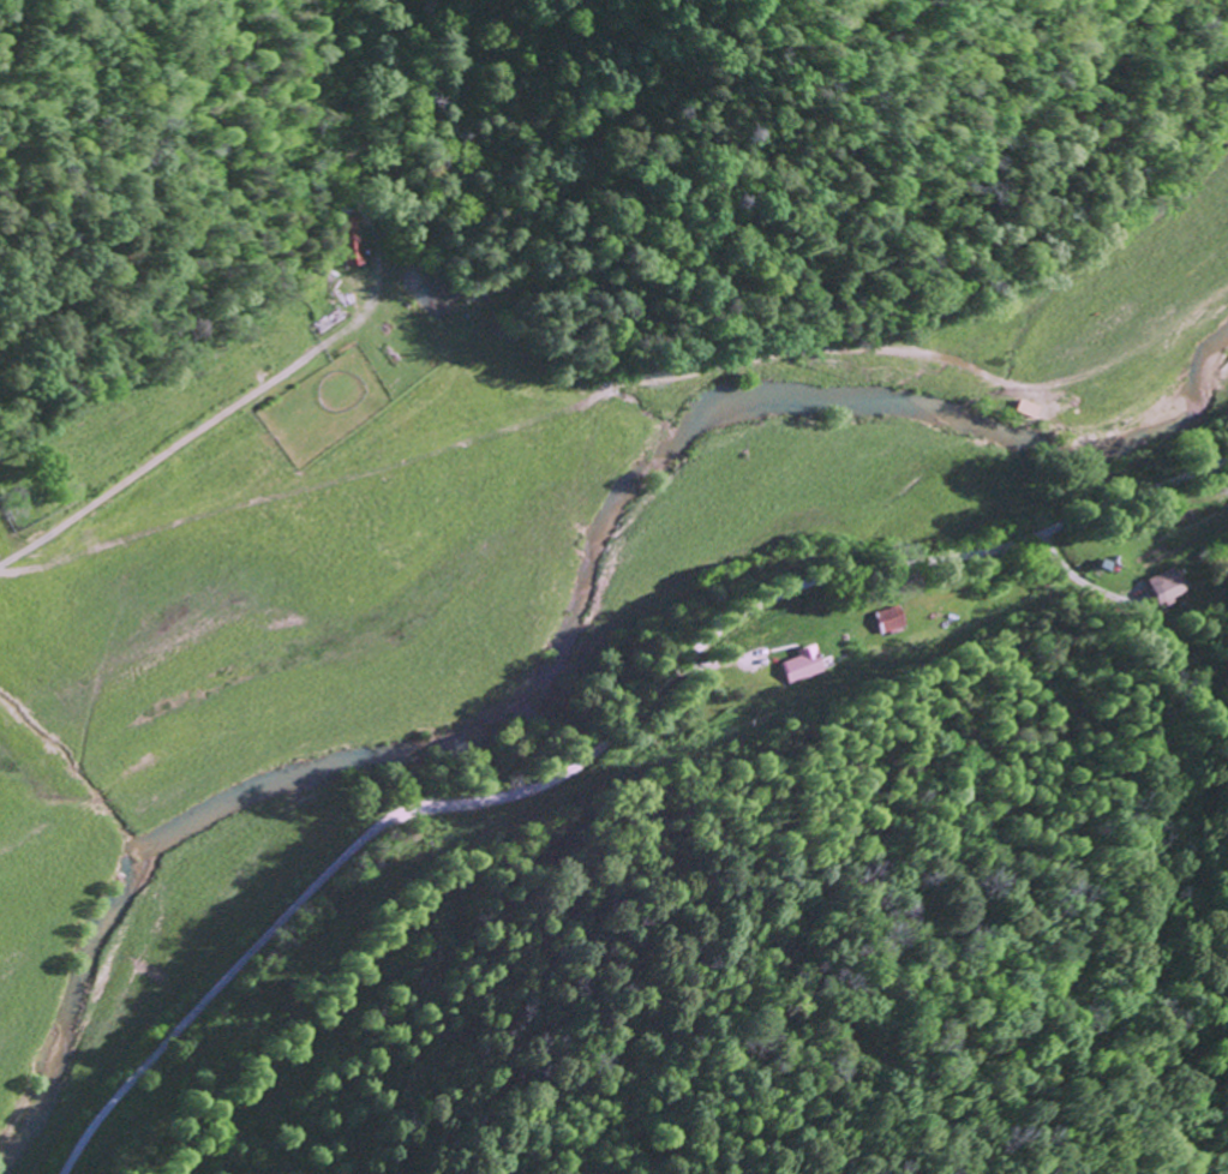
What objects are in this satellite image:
building: (351, 250)
building: (1029, 407)
road: (160, 460)
building: (1164, 583)
building: (889, 618)
building: (801, 664)
road: (598, 745)

